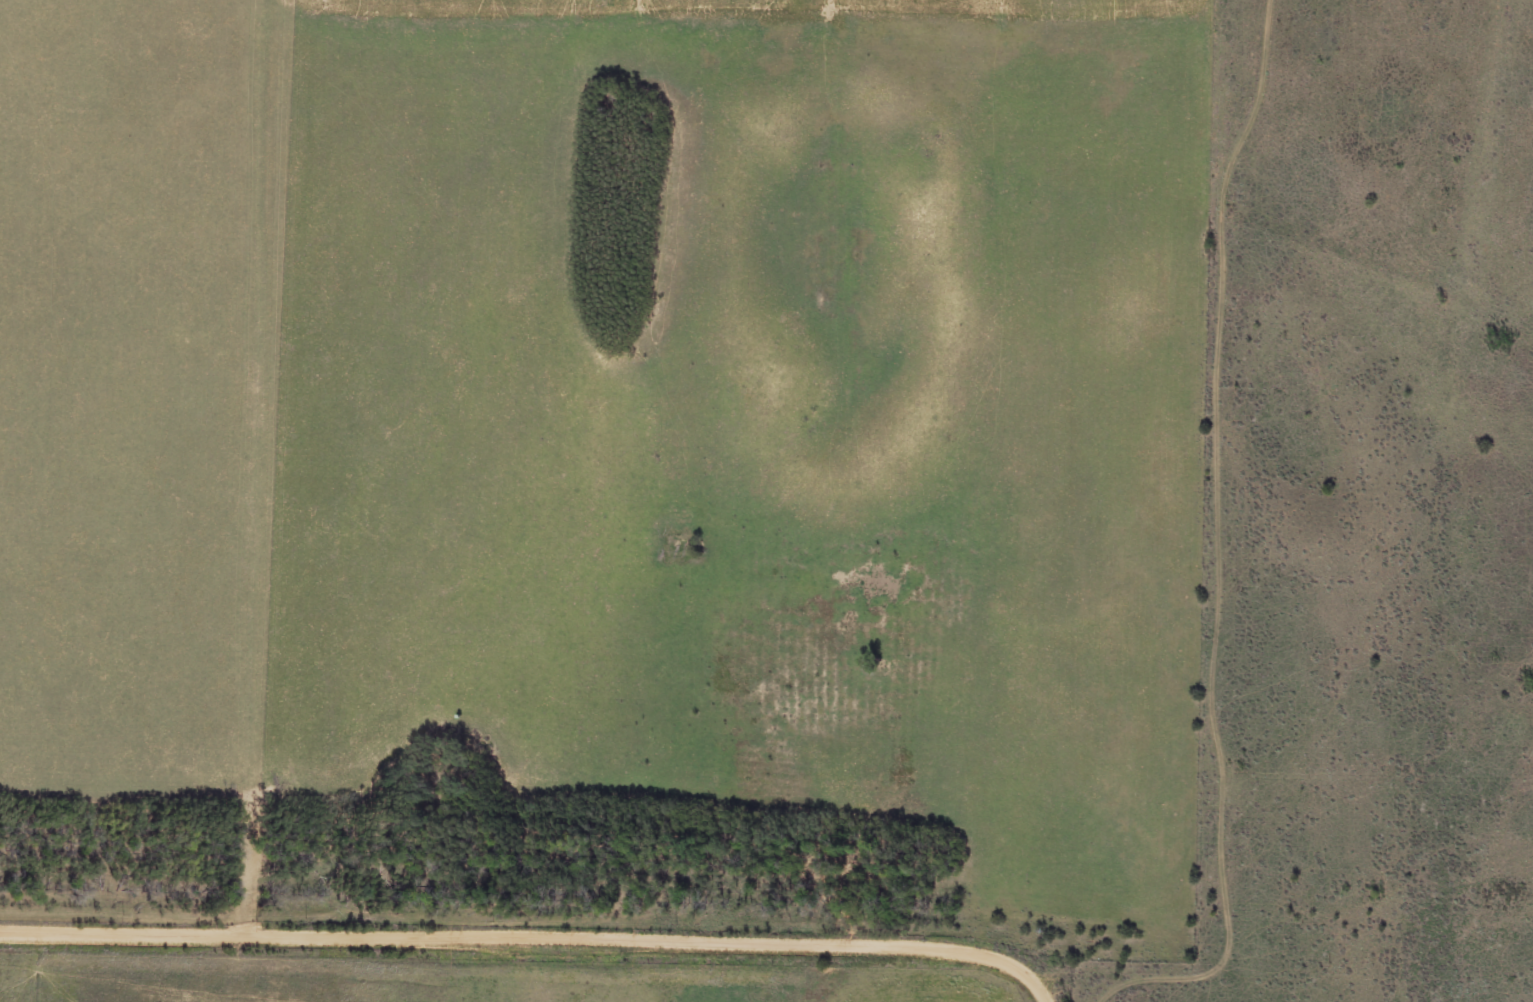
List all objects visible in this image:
road: (278, 464)
road: (536, 931)

